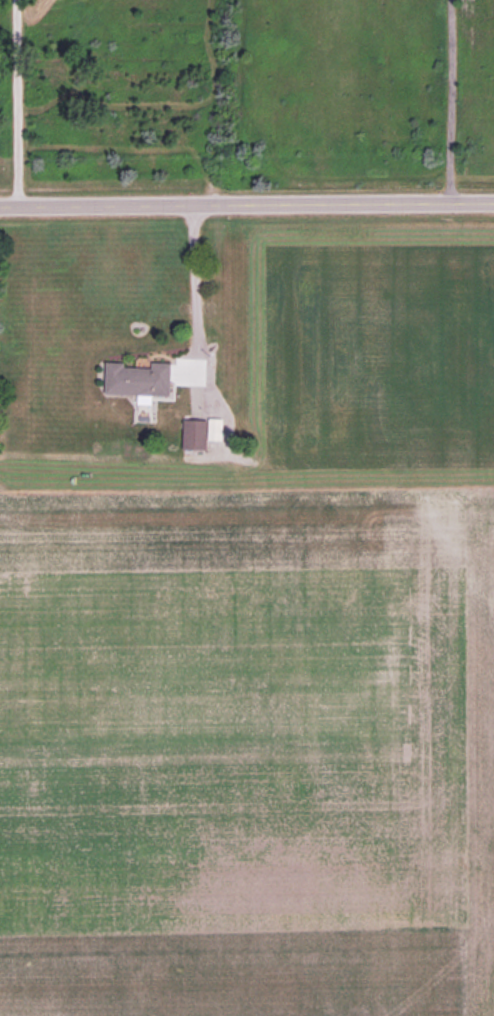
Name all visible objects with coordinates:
road: (449, 101)
road: (15, 102)
road: (246, 203)
road: (193, 280)
building: (138, 380)
building: (200, 432)

